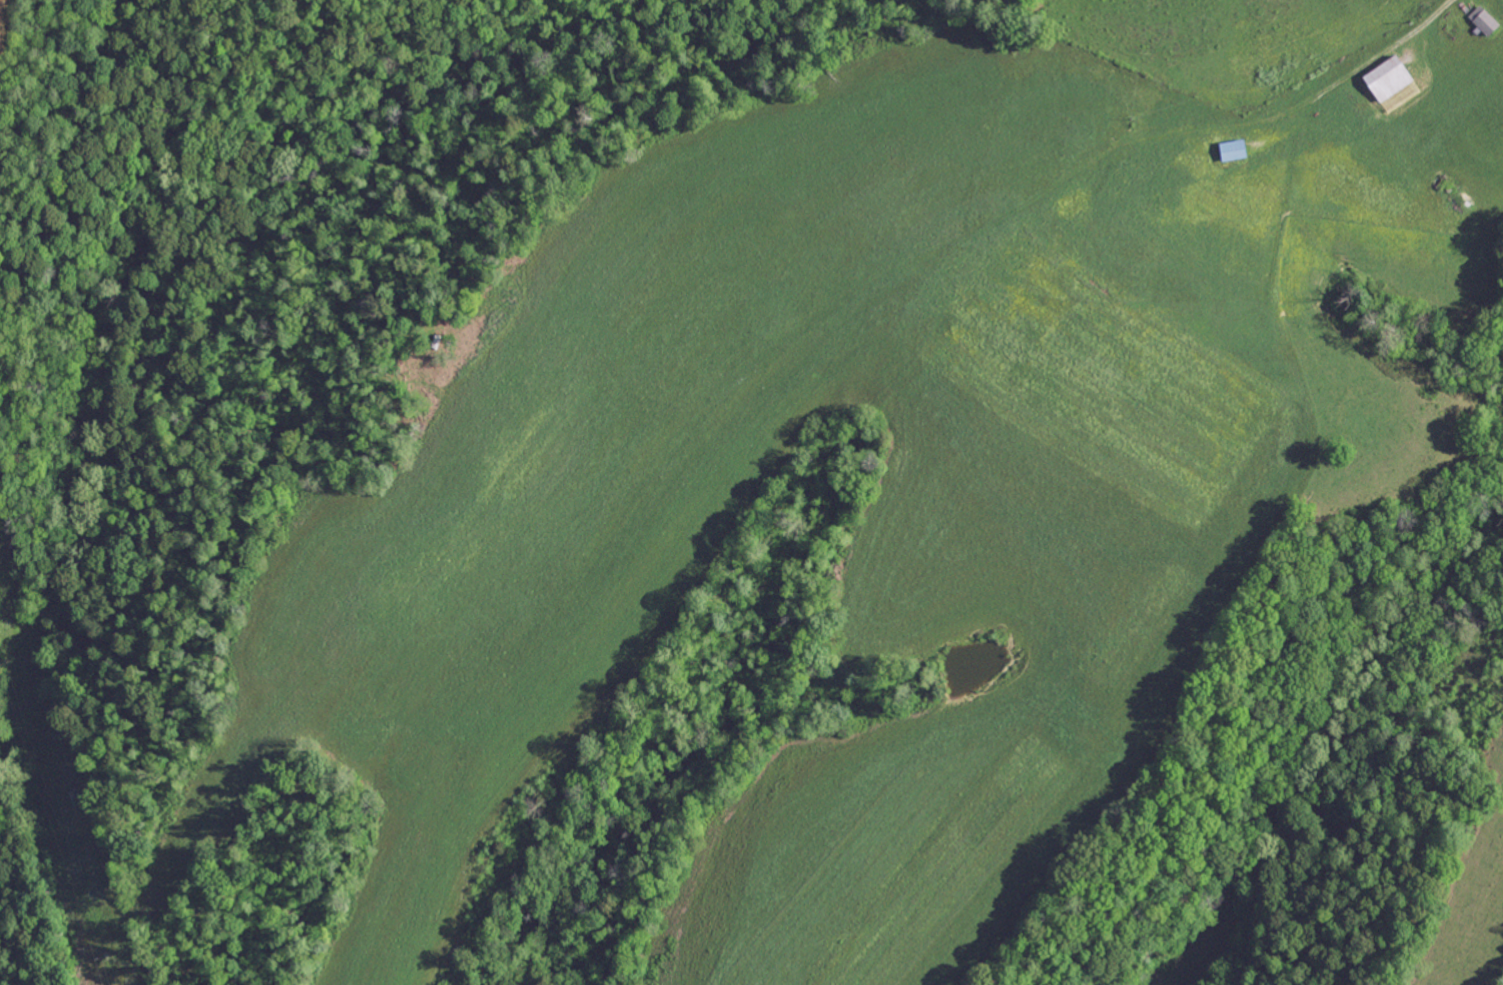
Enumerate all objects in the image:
building: (1394, 79)
road: (1298, 104)
building: (1239, 151)

